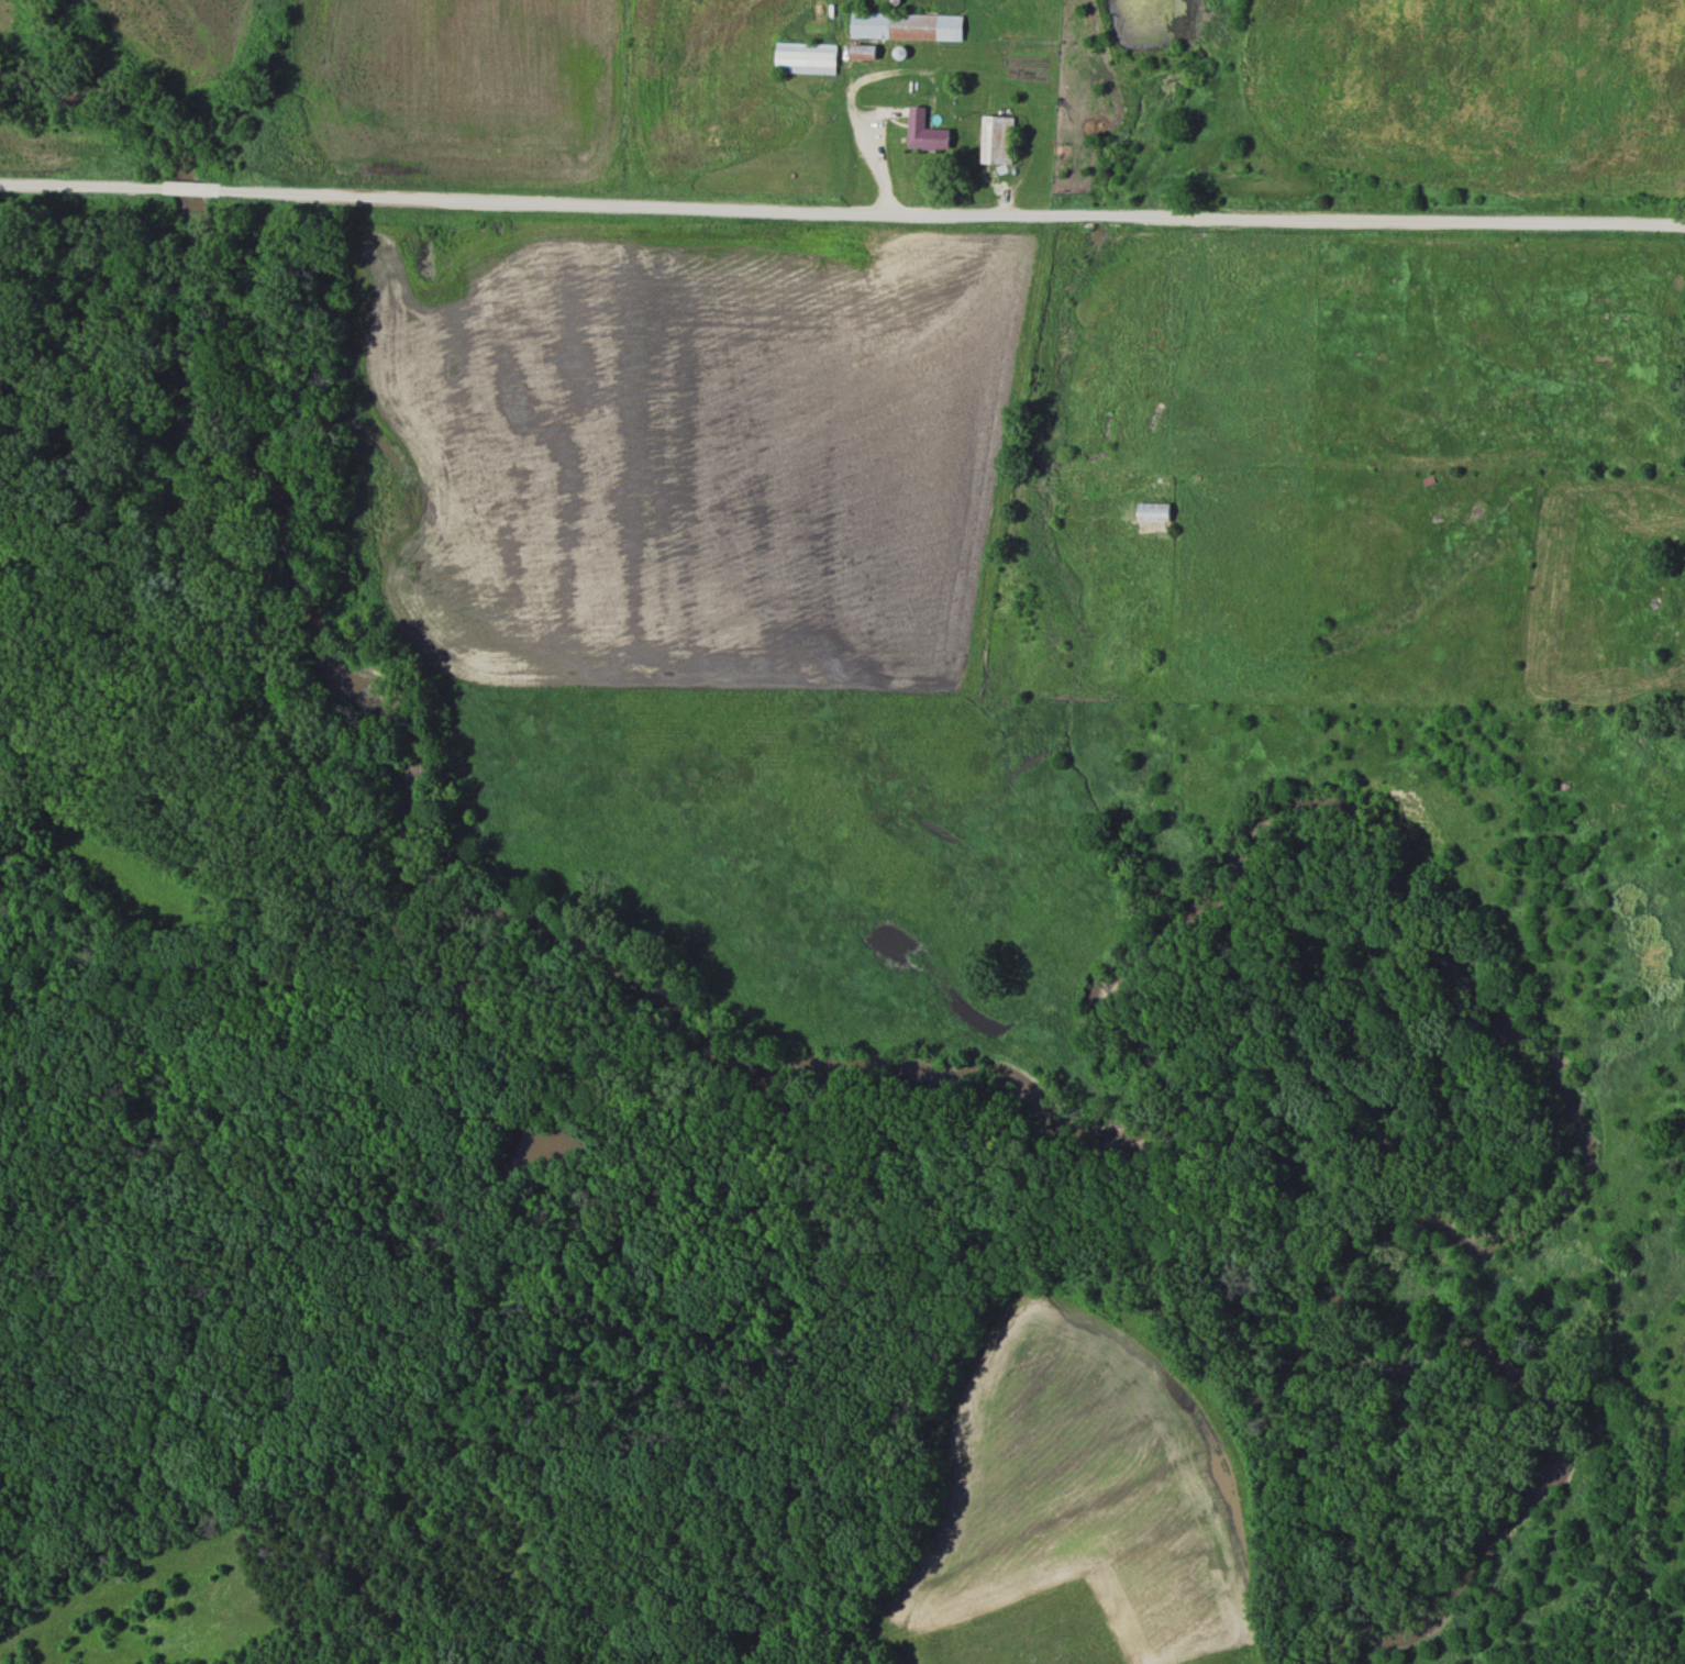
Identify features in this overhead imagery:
building: (907, 27)
building: (807, 59)
building: (924, 133)
building: (997, 141)
road: (876, 149)
road: (842, 214)

